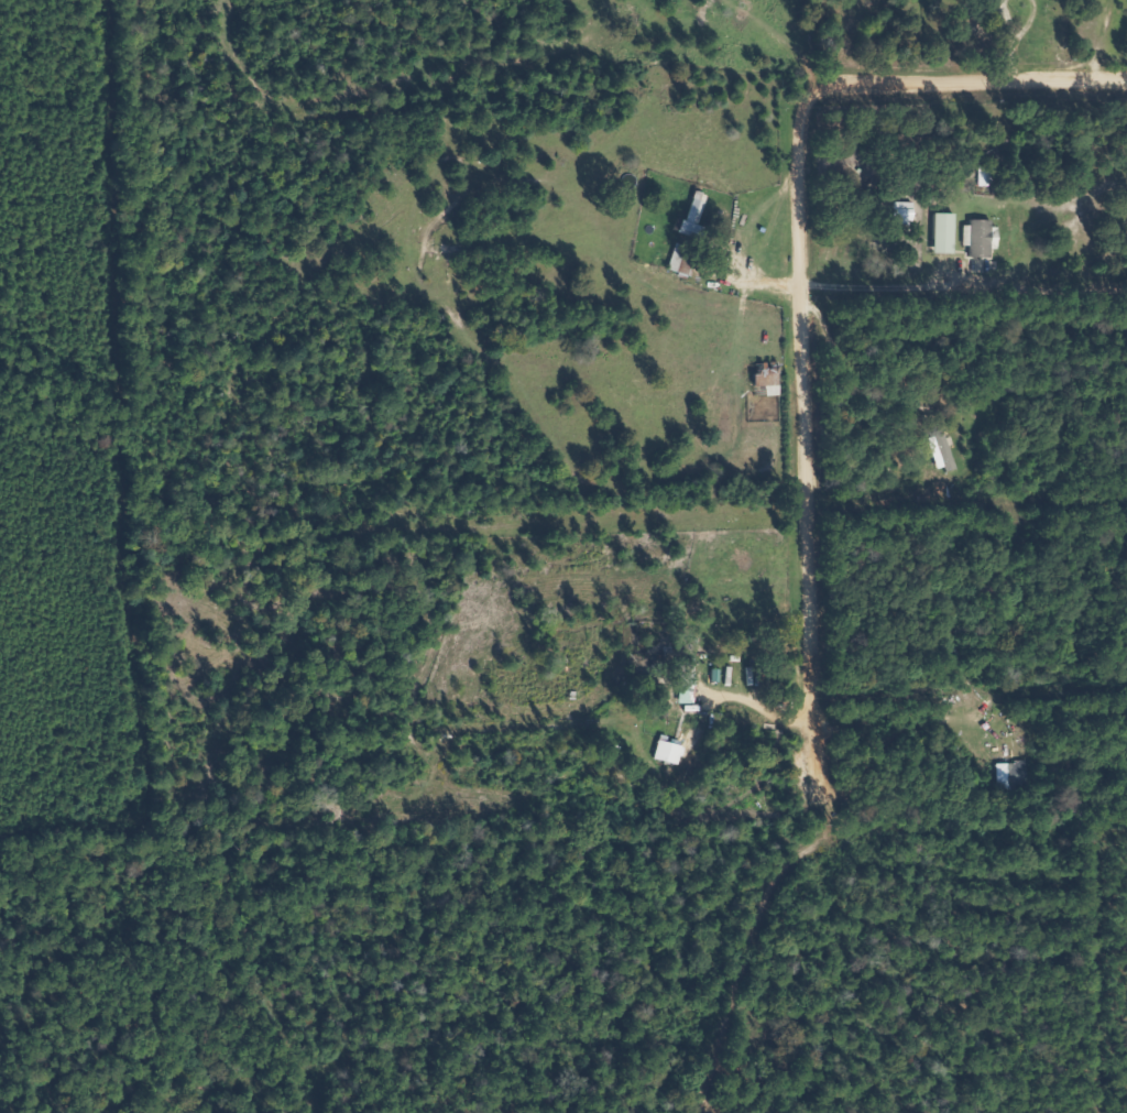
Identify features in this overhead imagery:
road: (222, 9)
road: (659, 33)
road: (818, 77)
road: (423, 86)
road: (886, 86)
building: (940, 231)
building: (976, 237)
building: (678, 258)
building: (763, 378)
road: (805, 408)
building: (928, 449)
building: (683, 678)
road: (763, 712)
building: (666, 751)
building: (1008, 775)
park: (766, 1034)

